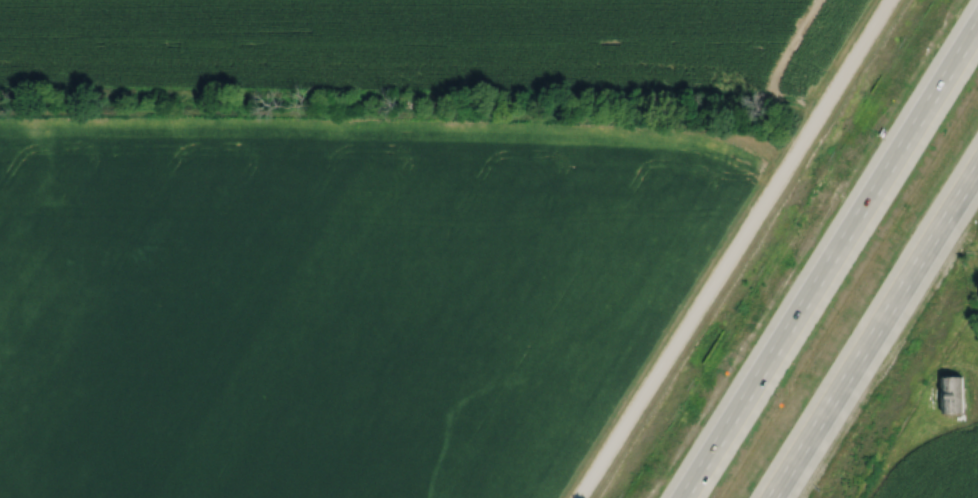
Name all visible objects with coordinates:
road: (736, 249)
road: (832, 264)
road: (885, 348)
building: (954, 395)

